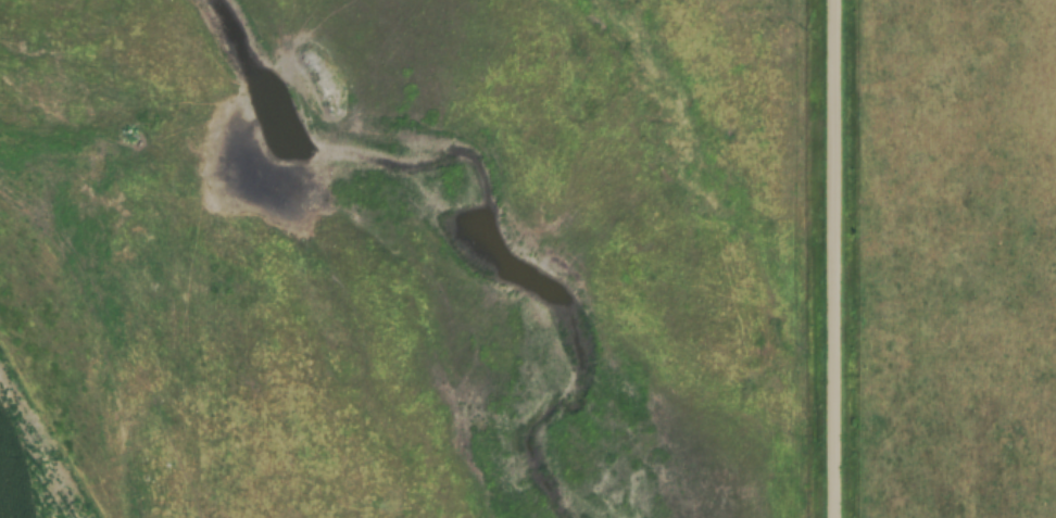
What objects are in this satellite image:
road: (838, 258)

